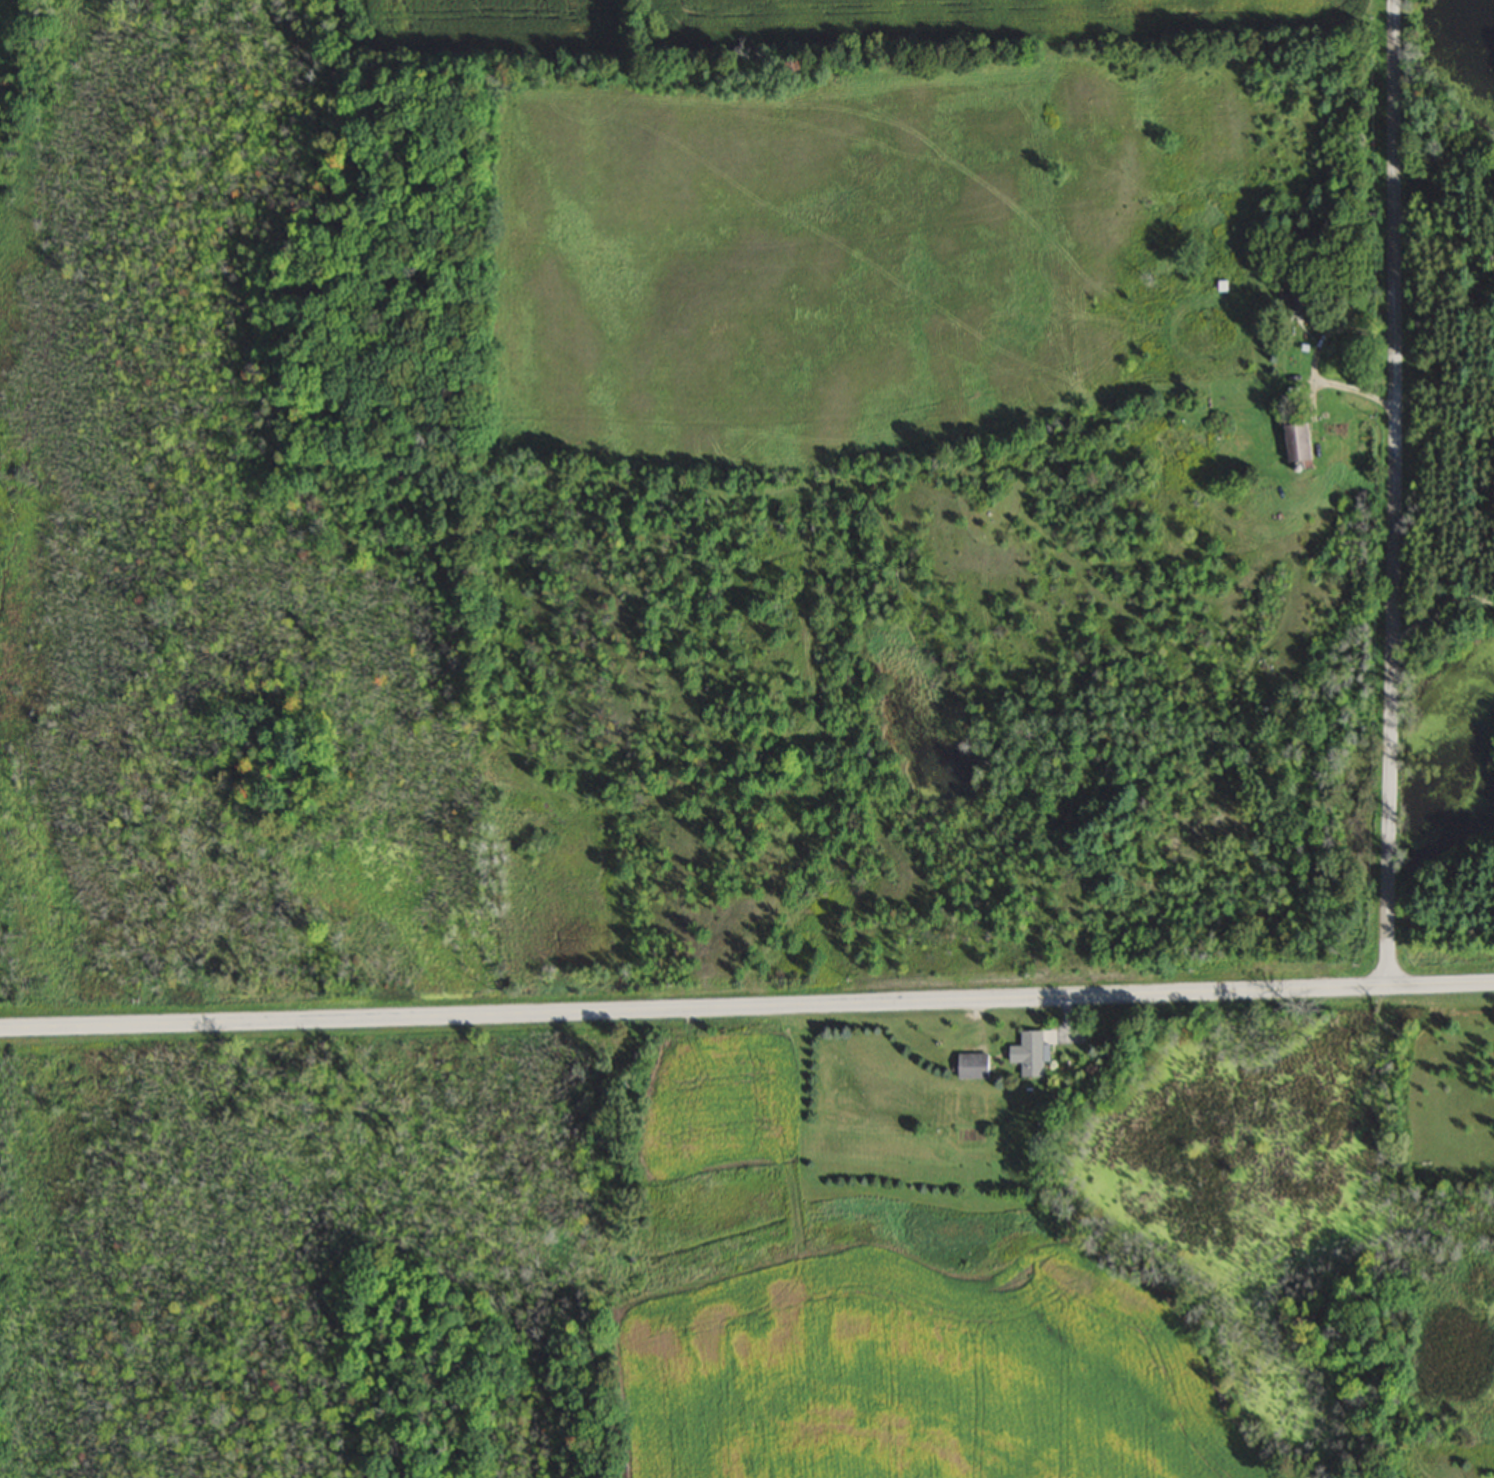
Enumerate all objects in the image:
building: (1297, 300)
building: (1291, 442)
road: (1393, 493)
road: (747, 1008)
building: (1028, 1052)
building: (966, 1065)

